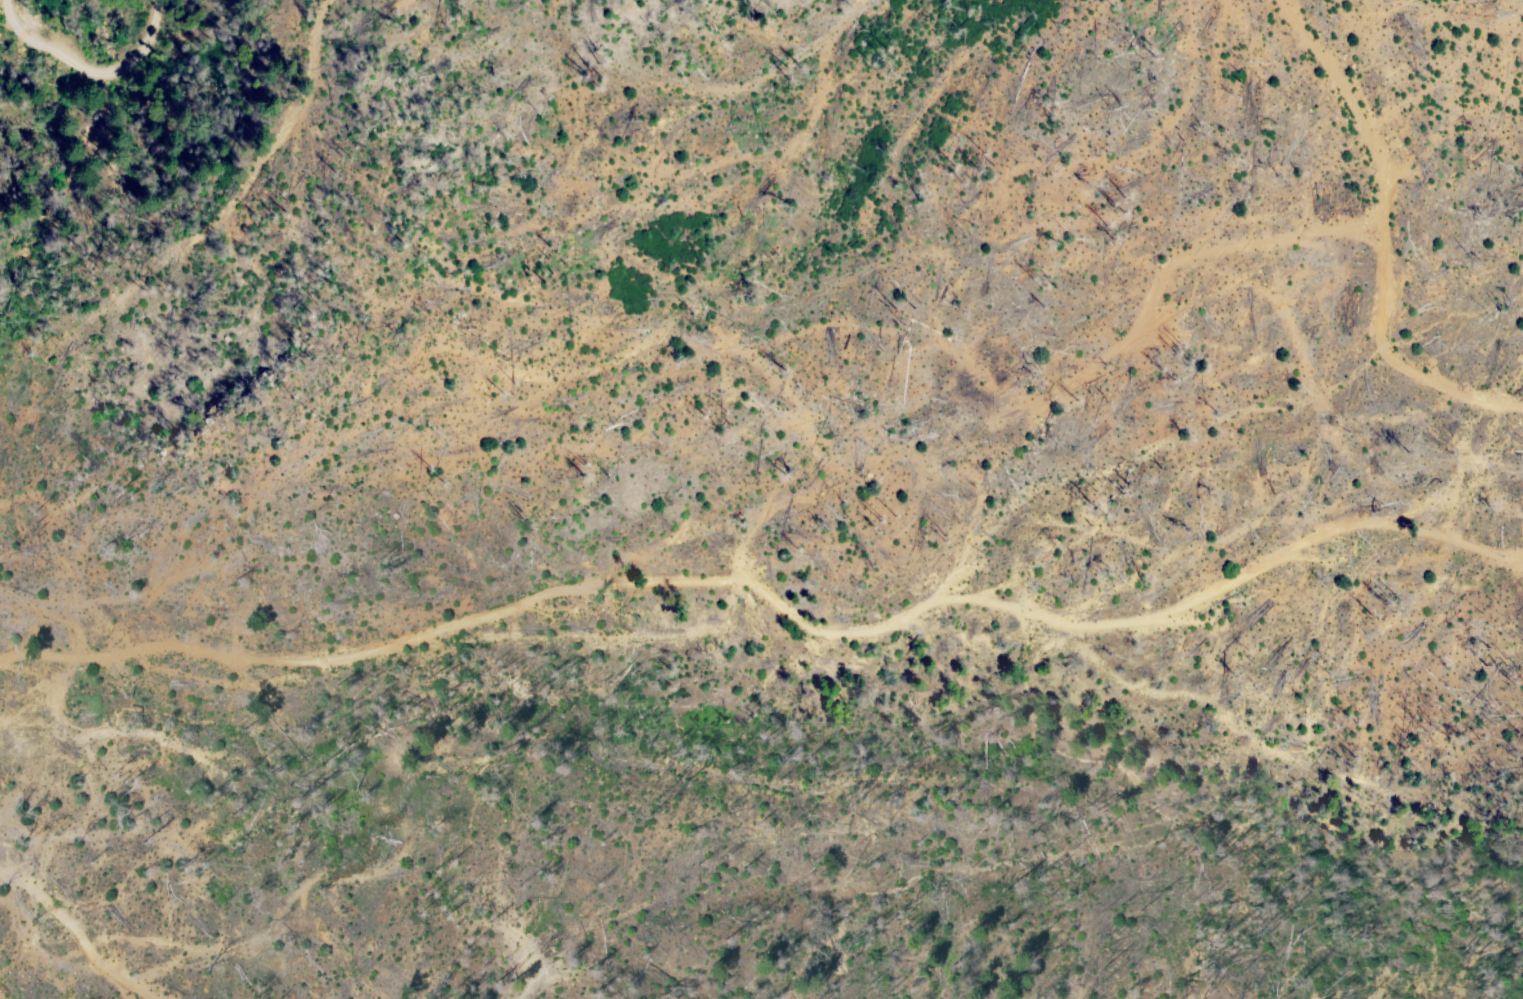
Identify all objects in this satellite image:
road: (88, 53)
road: (1384, 230)
road: (770, 592)

